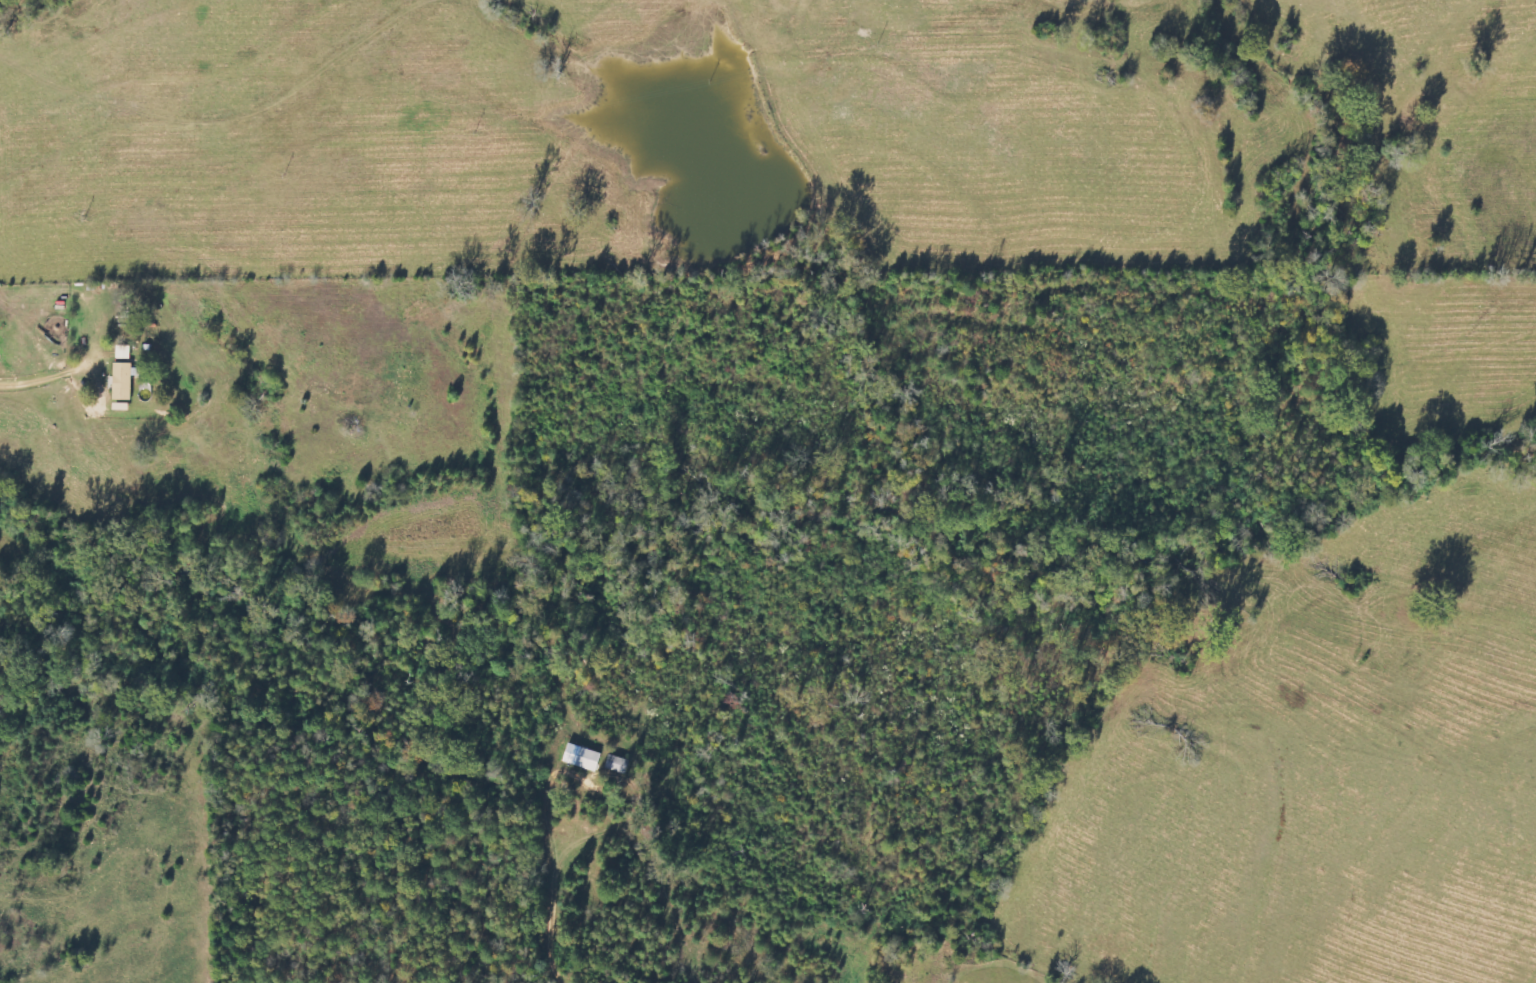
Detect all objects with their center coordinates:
building: (125, 353)
building: (124, 382)

